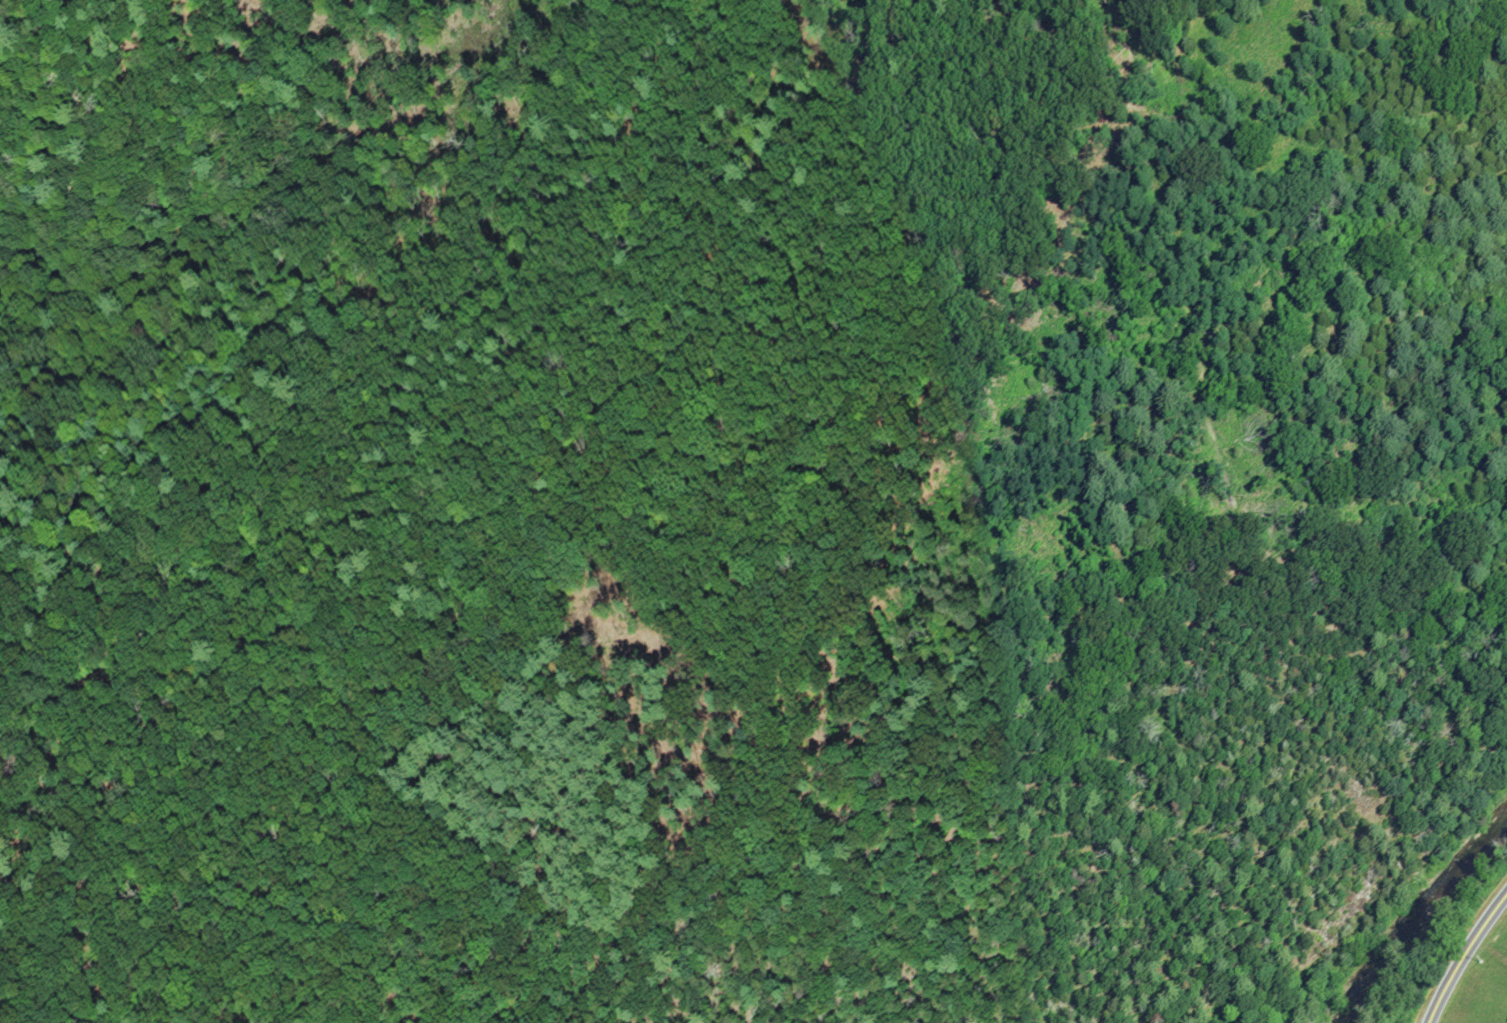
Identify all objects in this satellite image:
river: (1422, 911)
road: (1462, 955)

